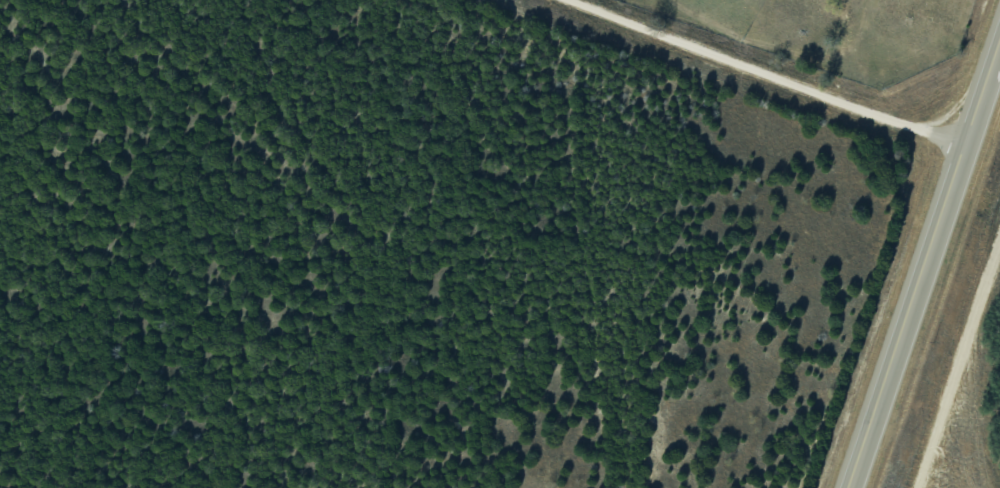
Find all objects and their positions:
road: (767, 72)
road: (923, 264)

